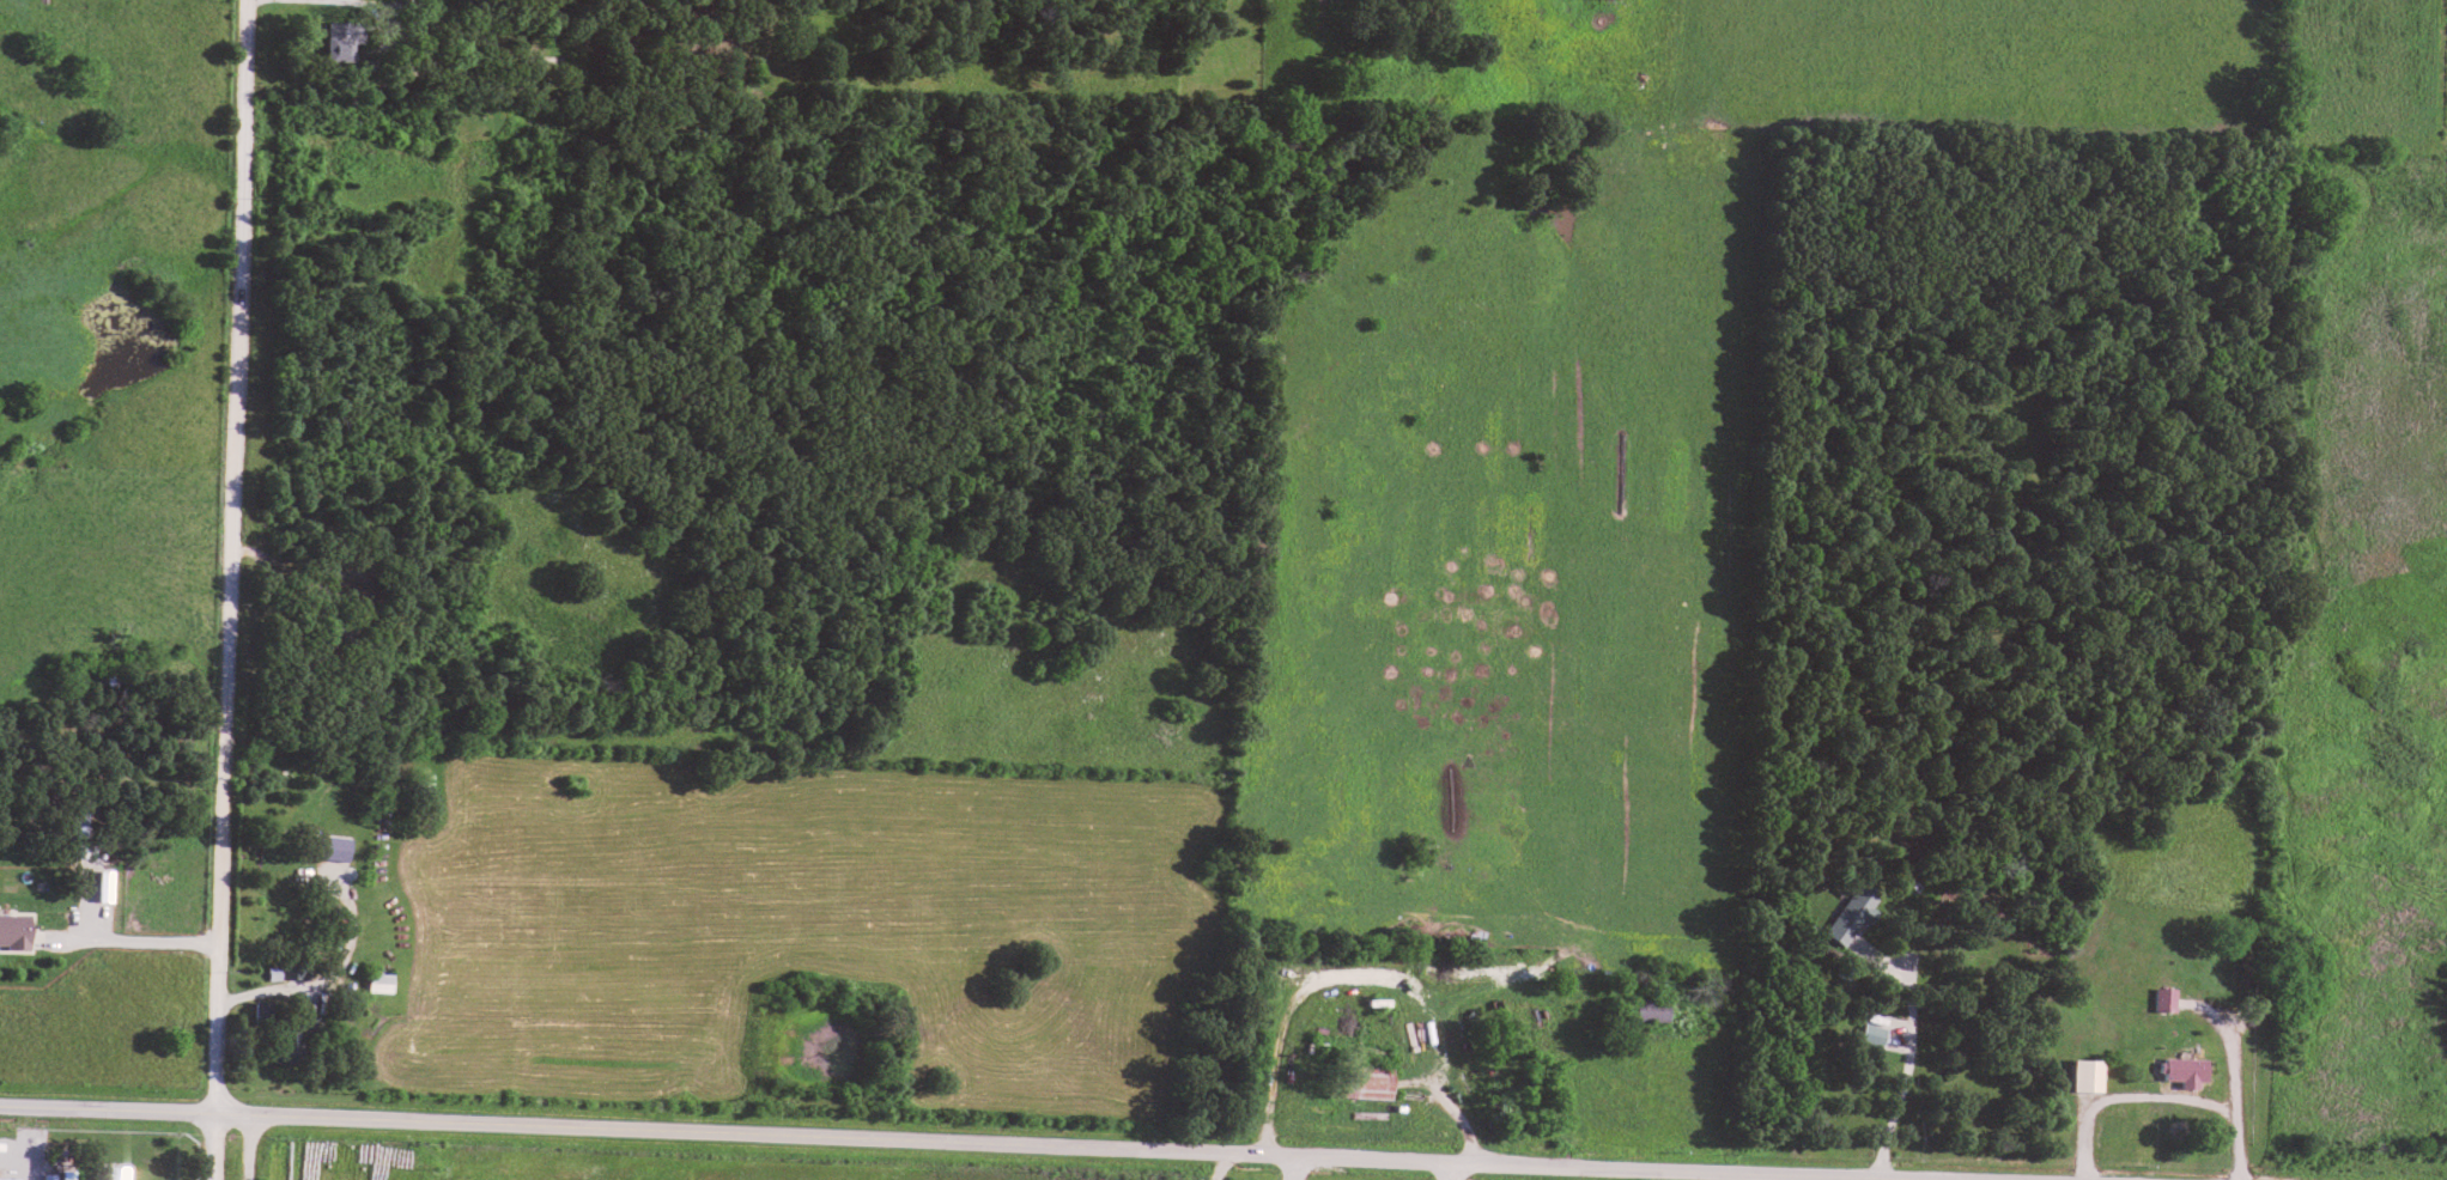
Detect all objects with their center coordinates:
building: (342, 37)
road: (229, 590)
building: (332, 846)
building: (14, 930)
road: (128, 938)
road: (1365, 974)
building: (378, 979)
building: (1651, 1006)
building: (2087, 1073)
building: (1370, 1078)
road: (2158, 1093)
road: (998, 1141)
road: (249, 1145)
road: (1218, 1166)
road: (1287, 1167)
road: (1451, 1170)
building: (117, 1172)
building: (67, 1174)
building: (8, 1178)

